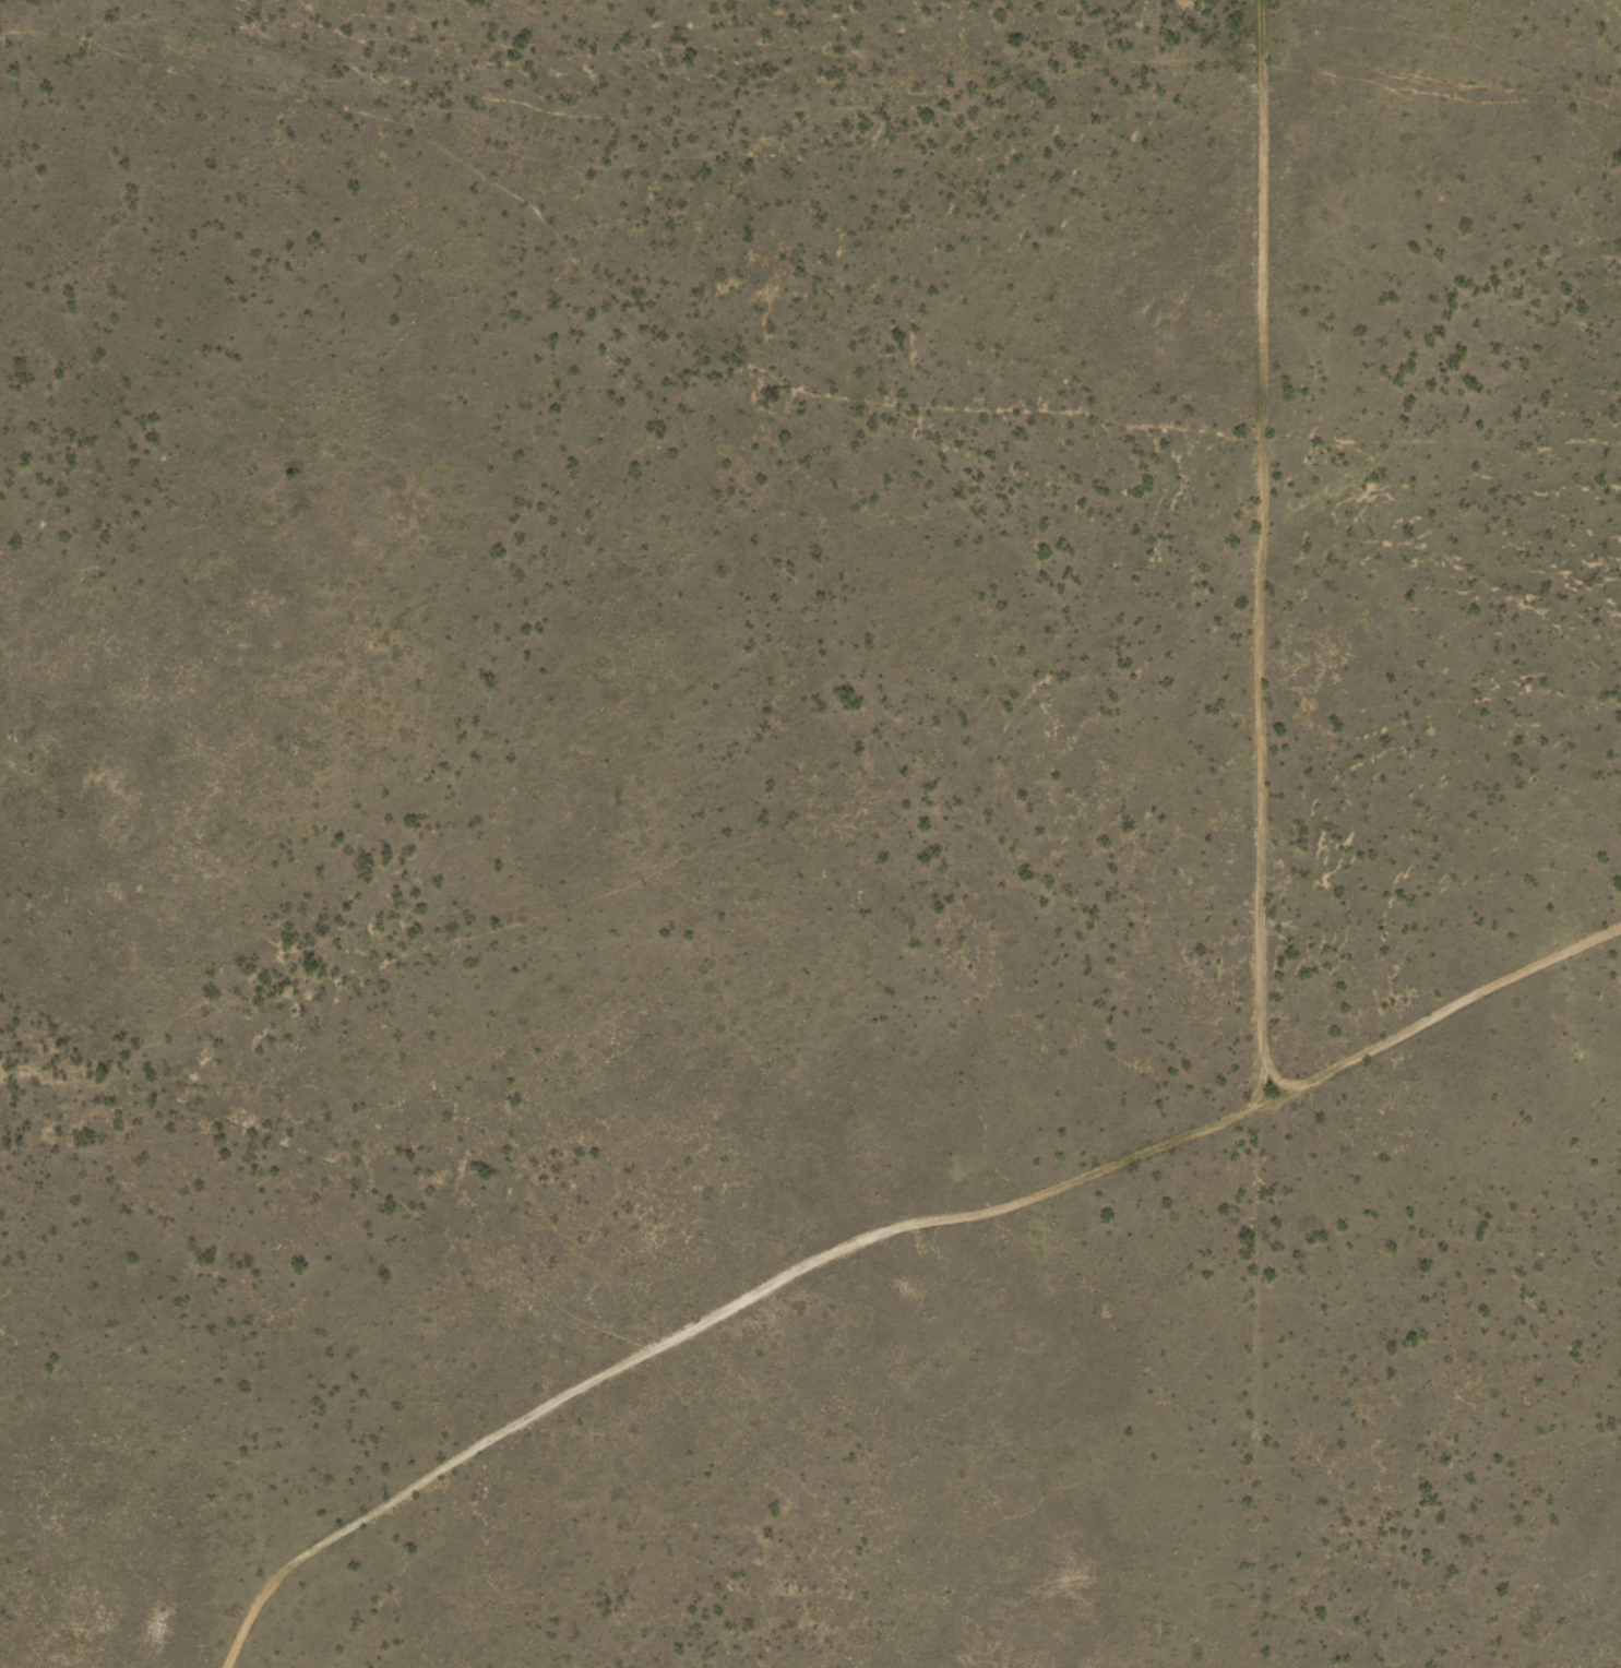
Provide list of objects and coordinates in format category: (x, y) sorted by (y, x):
road: (881, 1230)

